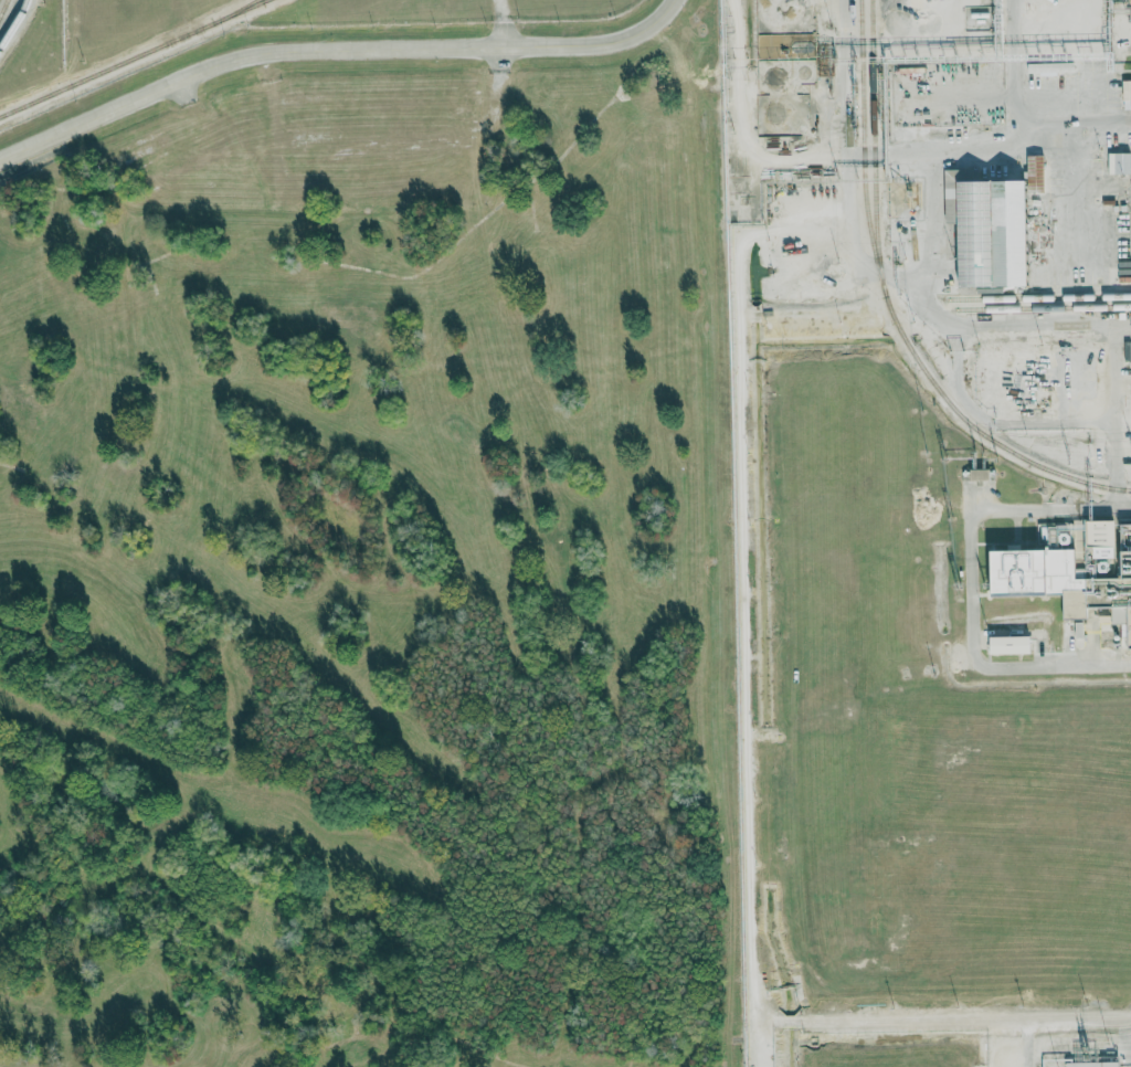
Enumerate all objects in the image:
railway: (263, 0)
railway: (2, 6)
railway: (234, 12)
railway: (14, 24)
railway: (131, 57)
road: (337, 57)
road: (843, 77)
building: (1127, 95)
railway: (873, 148)
road: (835, 155)
building: (1119, 163)
building: (992, 225)
road: (932, 233)
railway: (1040, 297)
railway: (1044, 307)
railway: (890, 311)
building: (980, 475)
road: (746, 533)
building: (1074, 574)
road: (970, 587)
building: (1011, 646)
road: (943, 1020)
building: (1093, 1064)

